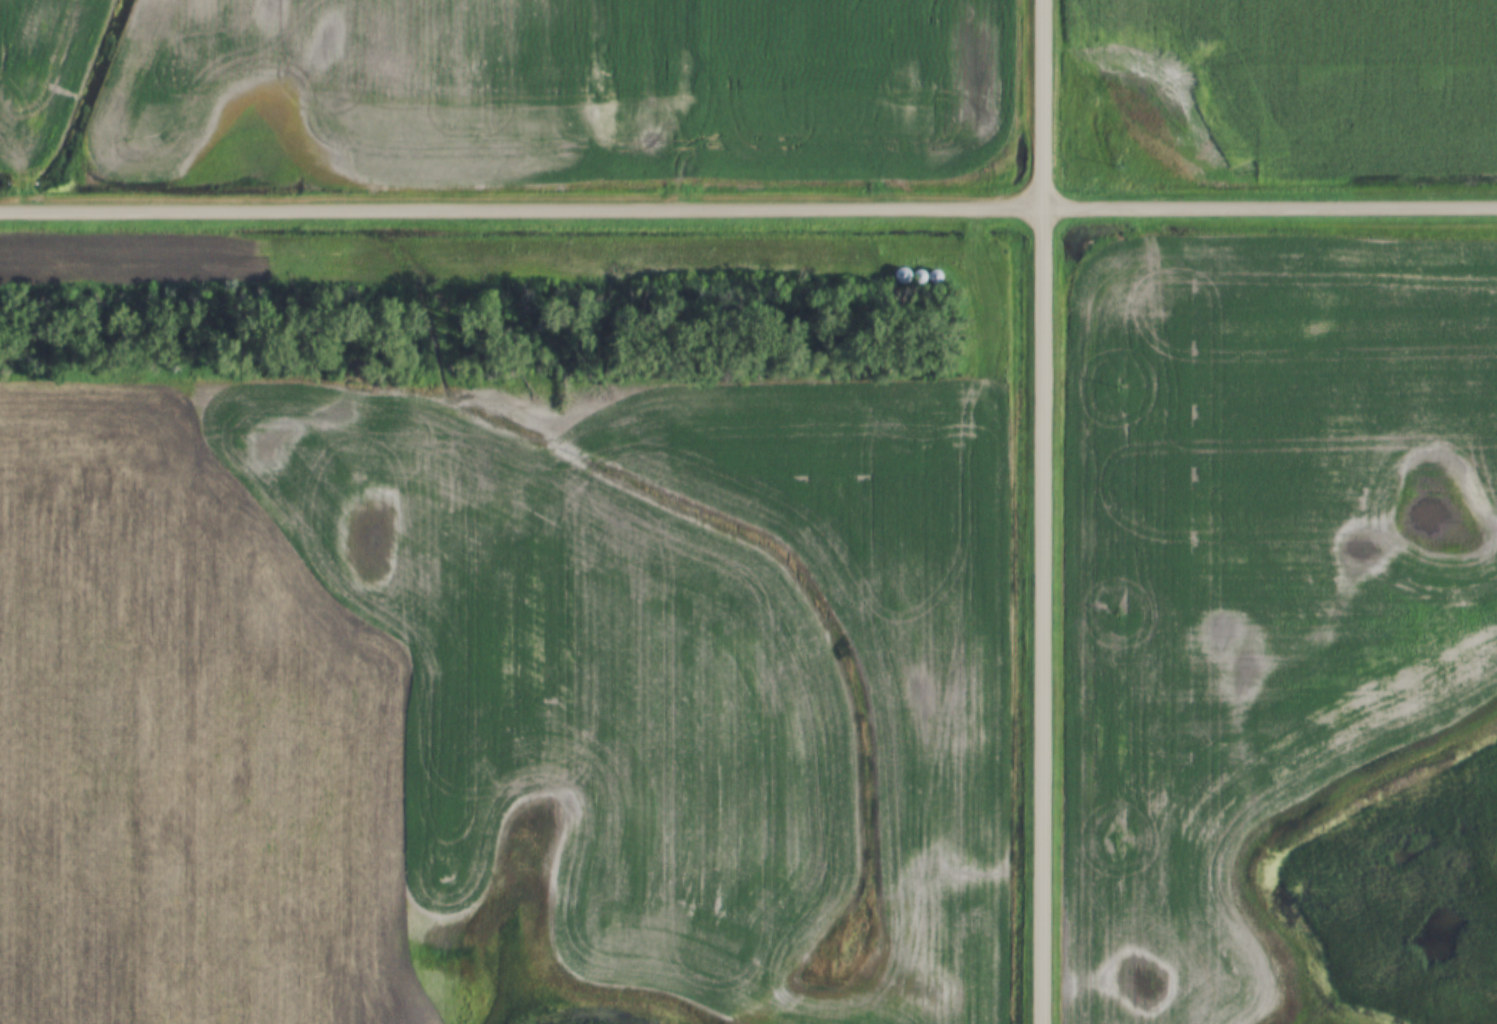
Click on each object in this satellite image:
road: (748, 210)
road: (1044, 511)

